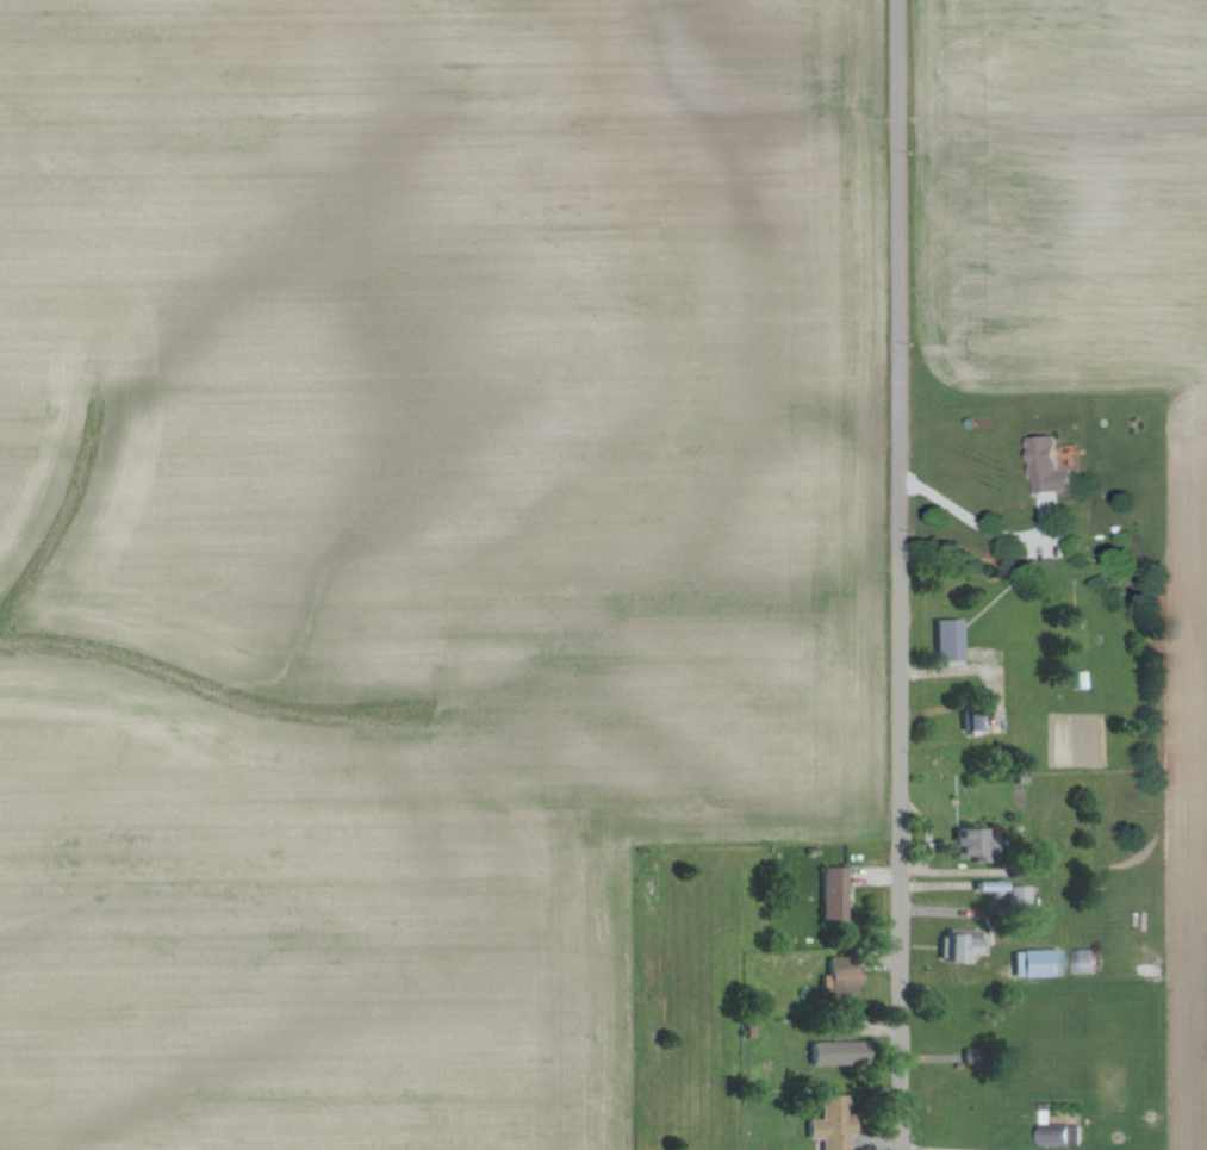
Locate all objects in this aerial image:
building: (1053, 464)
road: (969, 515)
road: (897, 574)
building: (951, 639)
road: (963, 664)
building: (977, 841)
building: (836, 894)
building: (959, 947)
building: (1087, 959)
building: (1038, 962)
building: (844, 972)
building: (840, 1051)
building: (835, 1123)
building: (1058, 1133)

